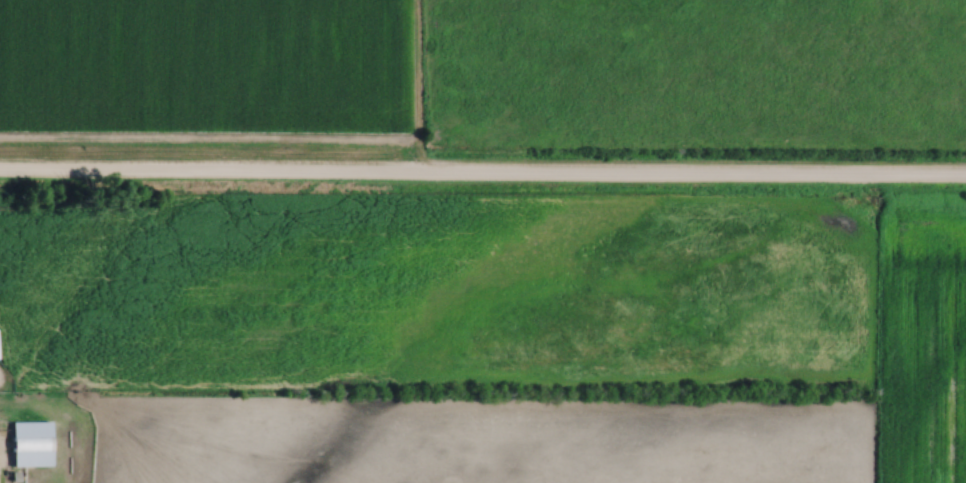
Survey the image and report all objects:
road: (483, 179)
building: (30, 444)

